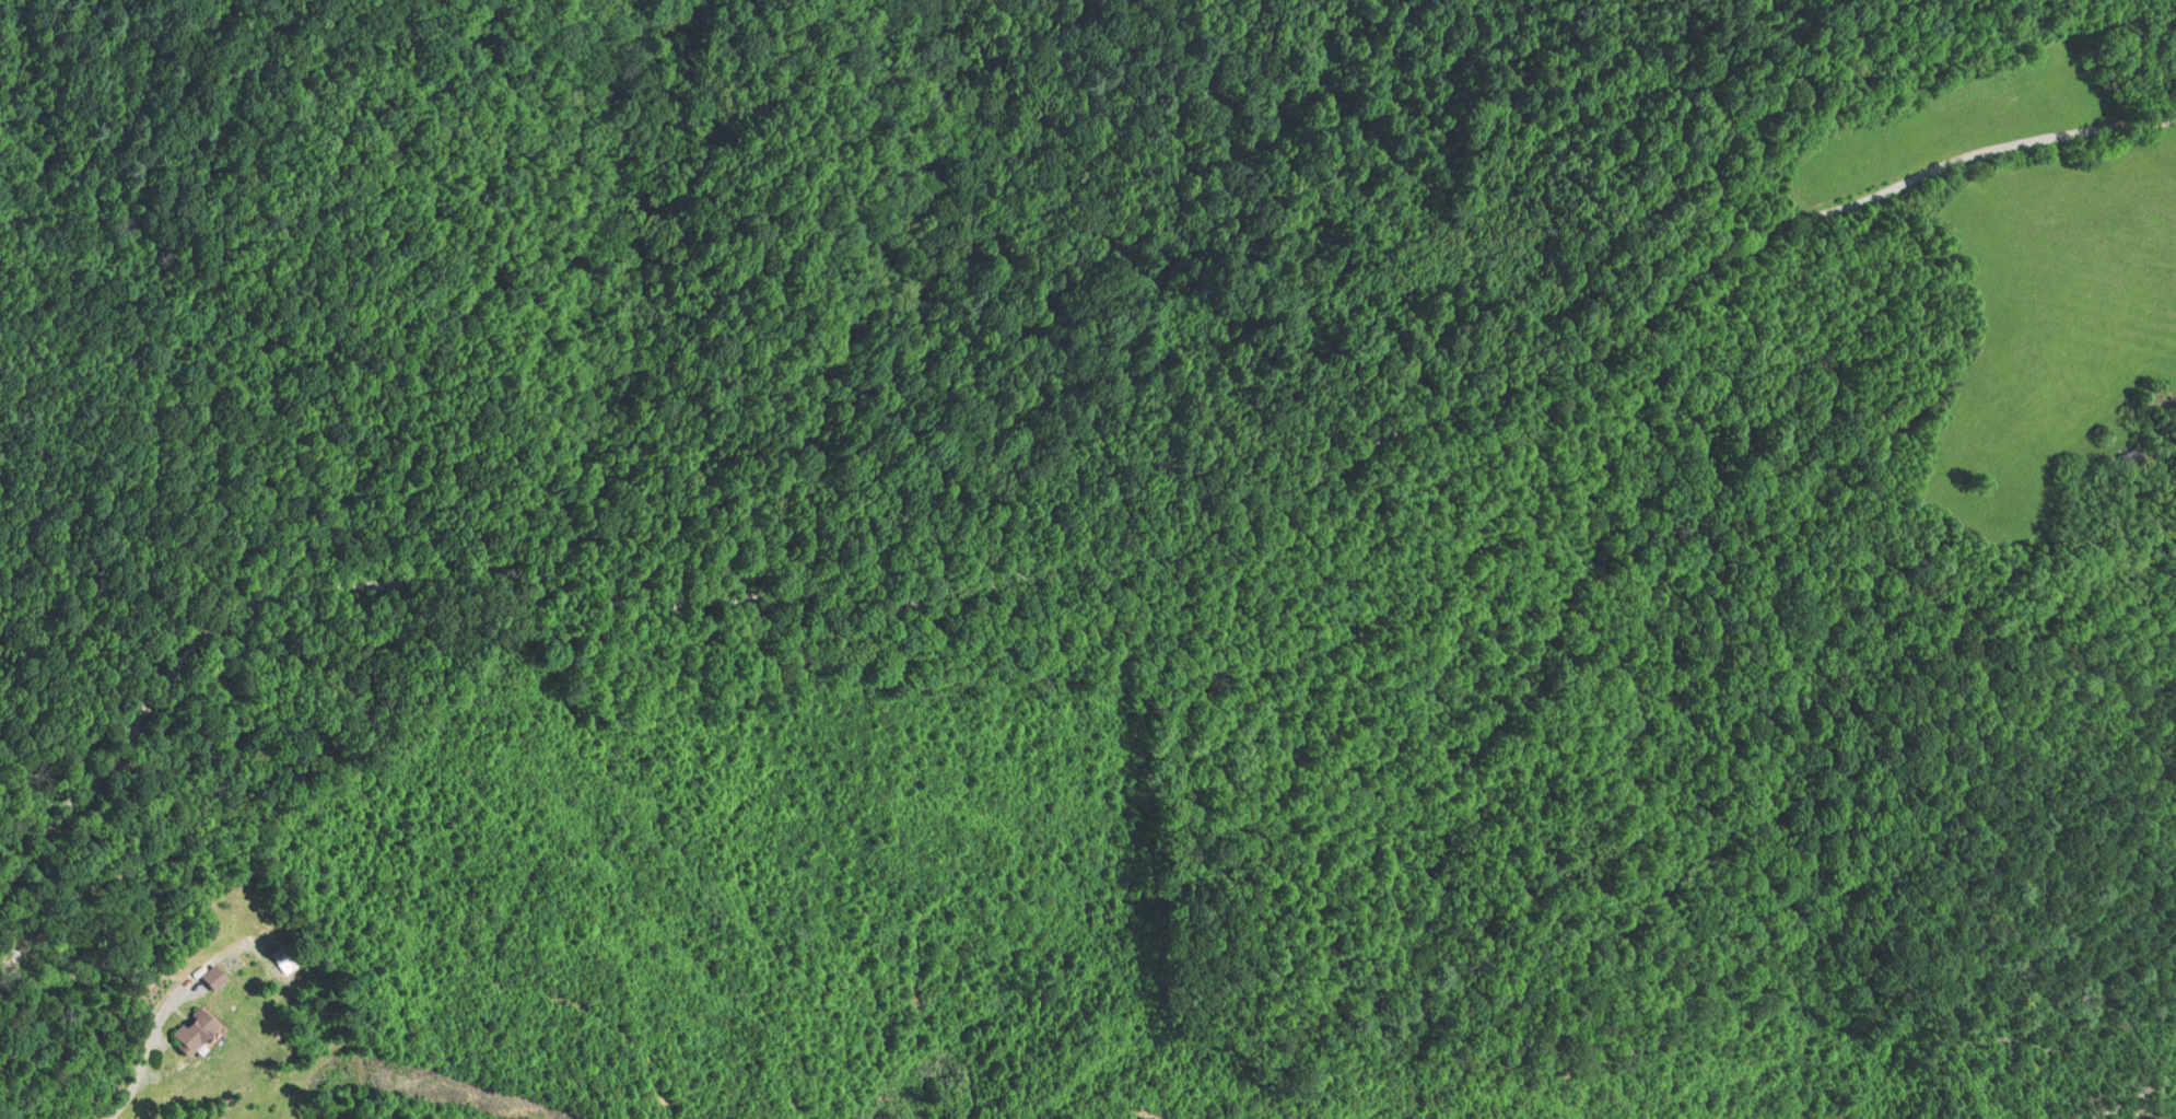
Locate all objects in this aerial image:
building: (2125, 461)
road: (1063, 567)
building: (219, 978)
building: (200, 1031)
road: (145, 1056)

